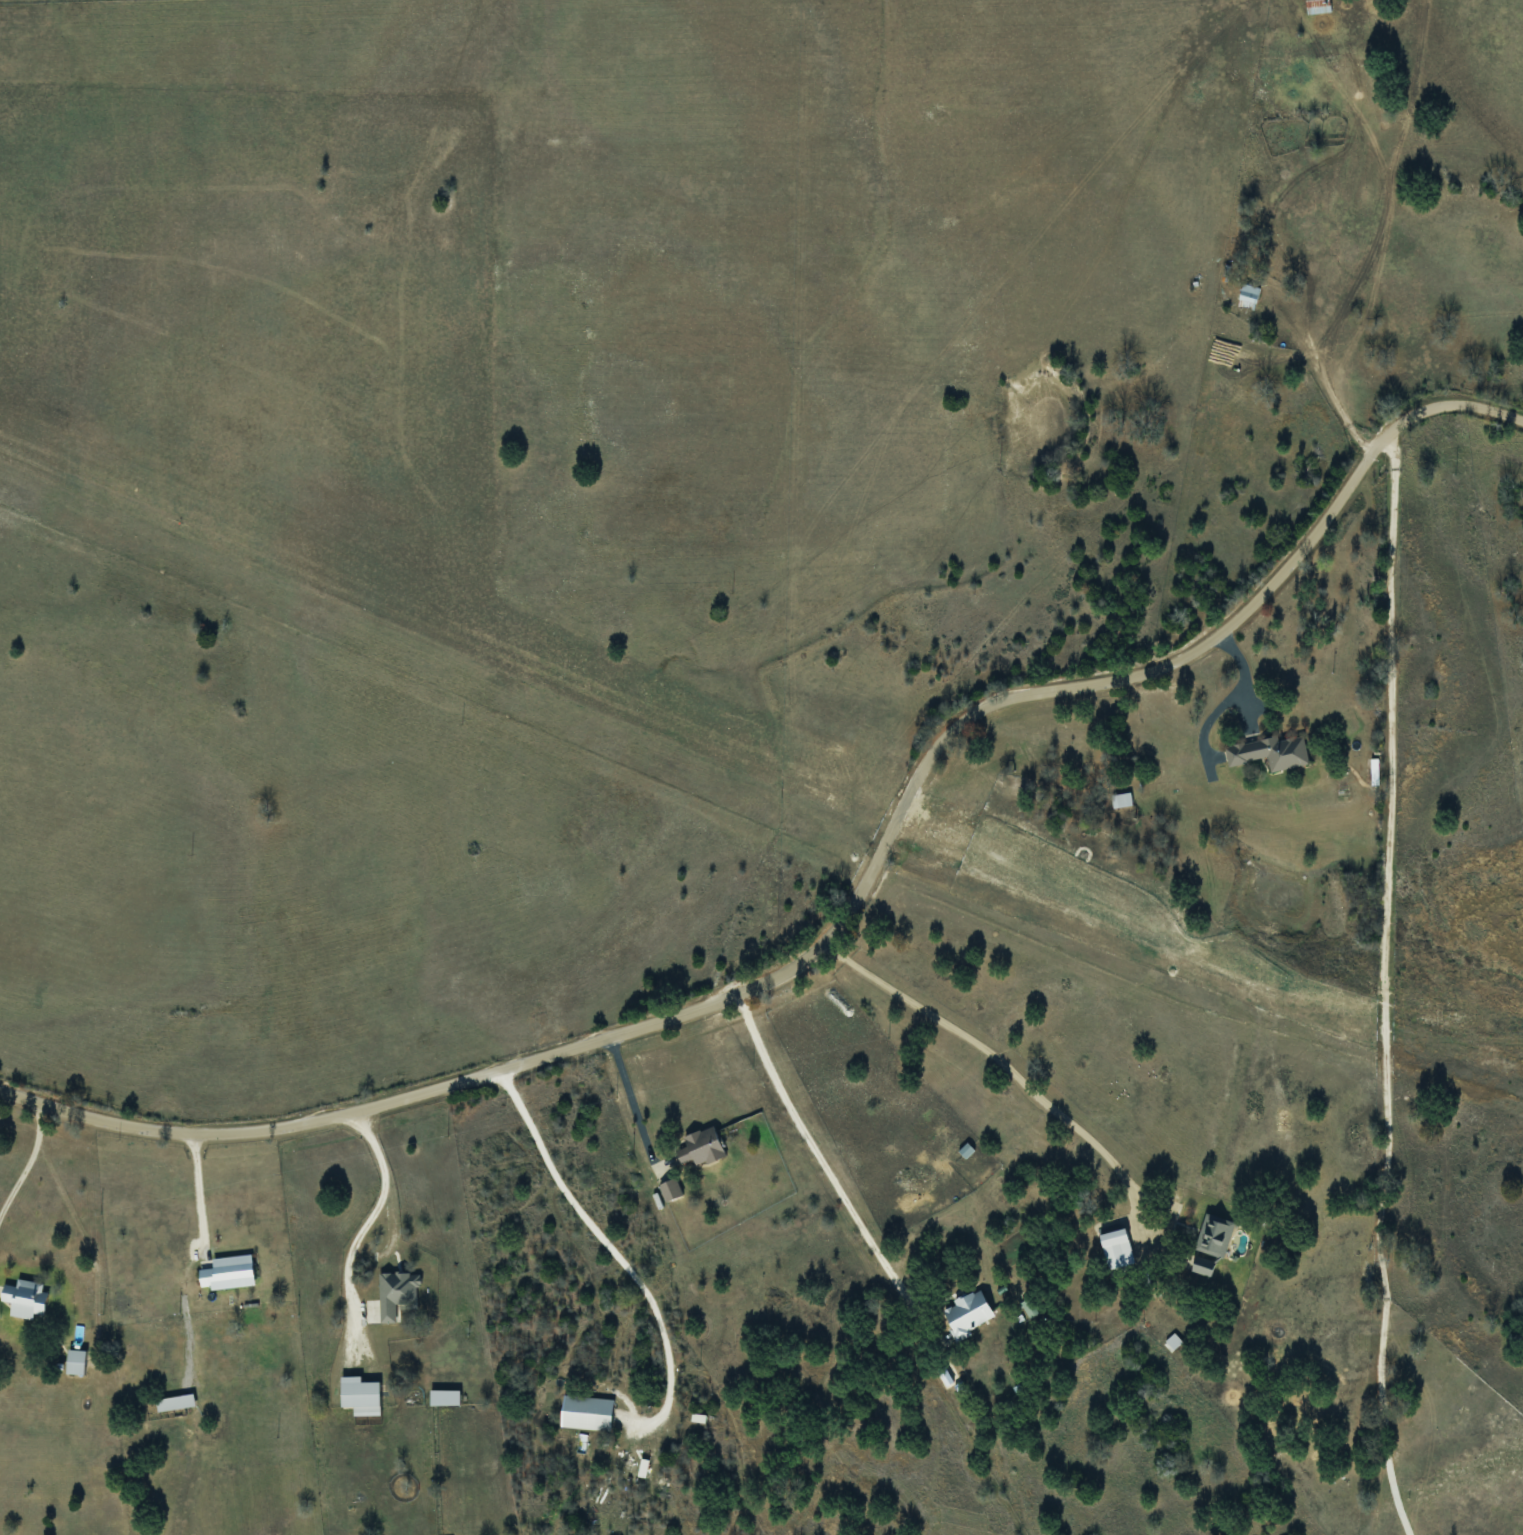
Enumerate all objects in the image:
building: (1318, 6)
building: (1249, 296)
building: (1271, 752)
road: (847, 908)
road: (1382, 986)
road: (1011, 1076)
building: (701, 1147)
building: (967, 1150)
road: (823, 1172)
building: (671, 1189)
road: (198, 1192)
building: (1214, 1235)
building: (1203, 1266)
building: (229, 1272)
building: (397, 1294)
building: (27, 1298)
building: (1030, 1308)
building: (969, 1313)
building: (76, 1362)
building: (361, 1396)
building: (176, 1402)
building: (588, 1413)

